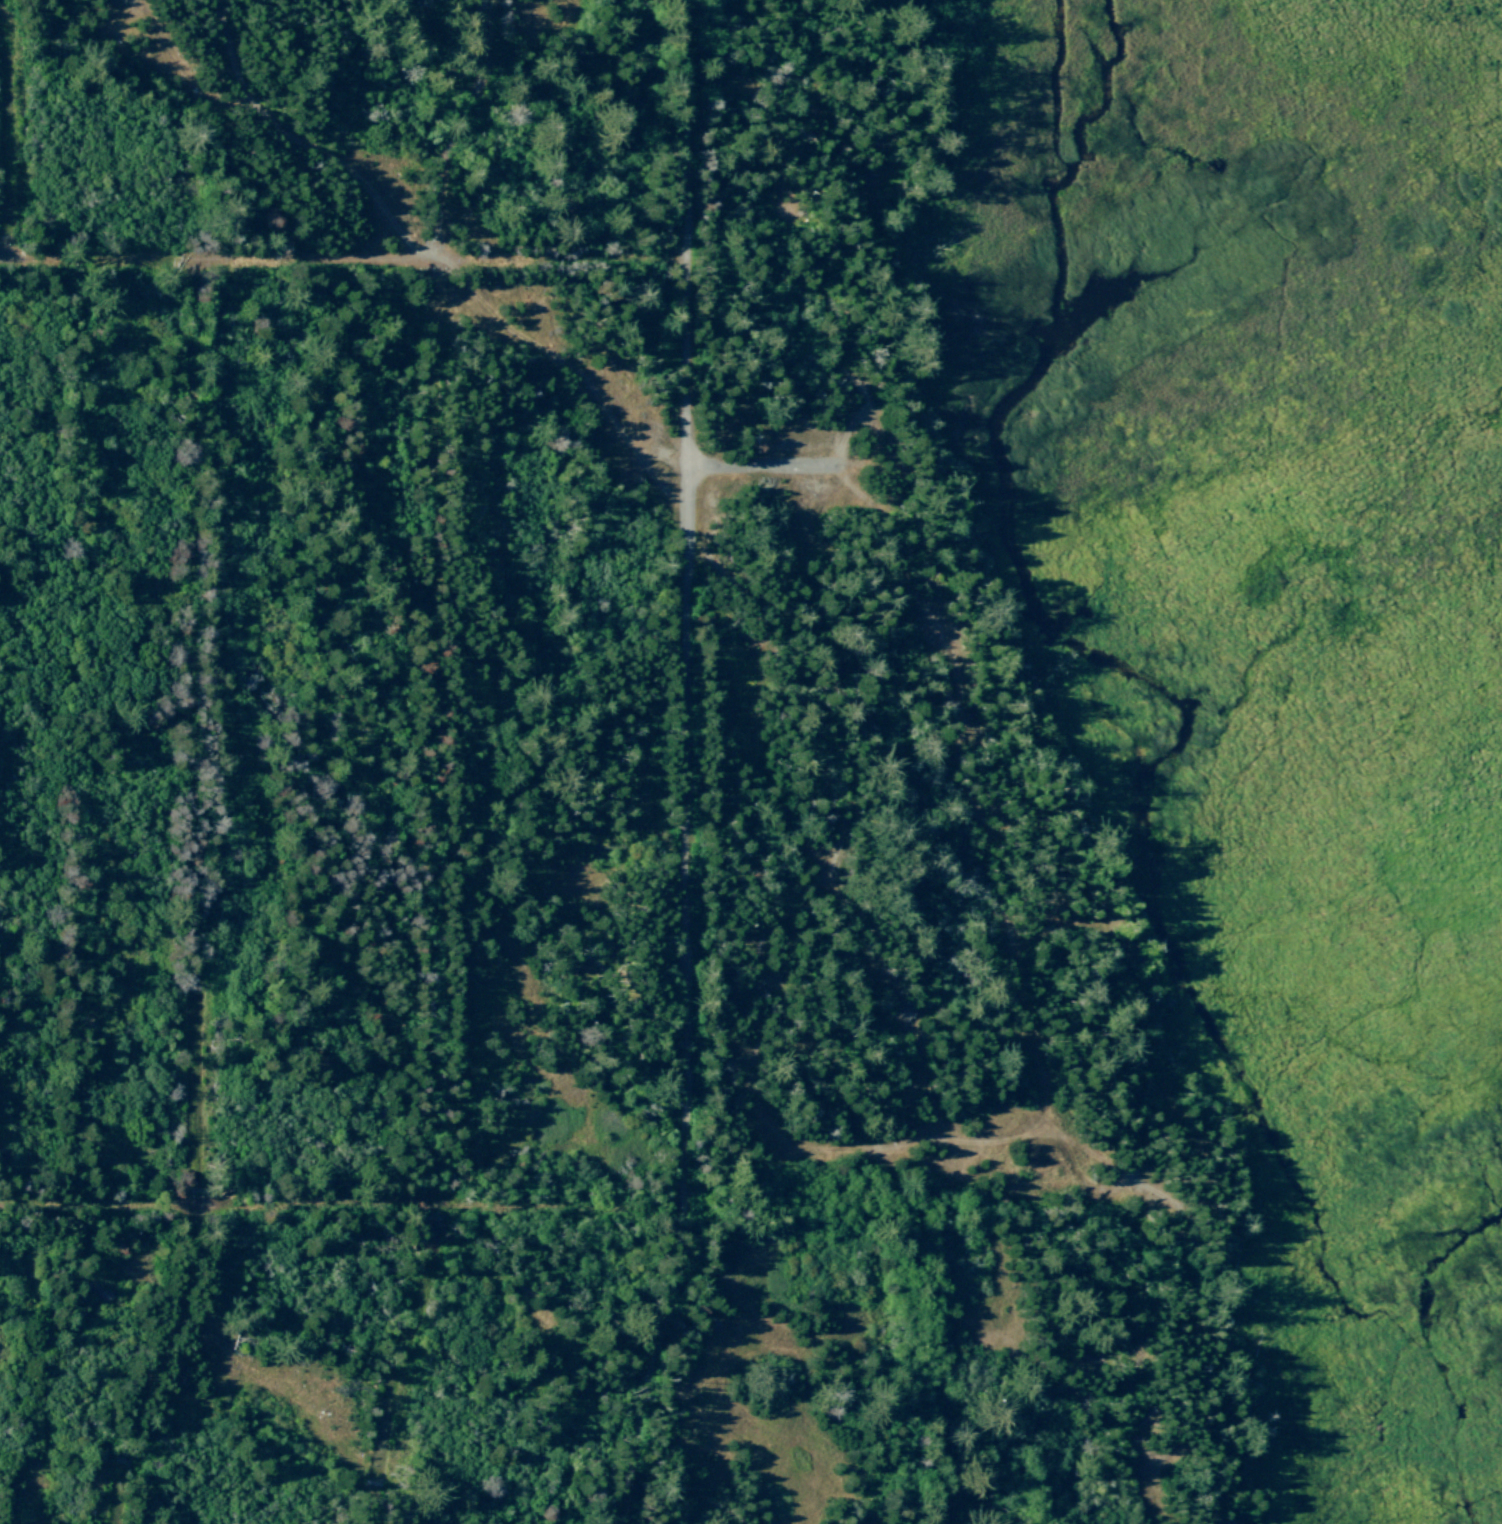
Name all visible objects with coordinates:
road: (6, 7)
road: (12, 129)
road: (345, 263)
road: (766, 466)
road: (438, 761)
road: (689, 766)
road: (198, 900)
road: (610, 1203)

